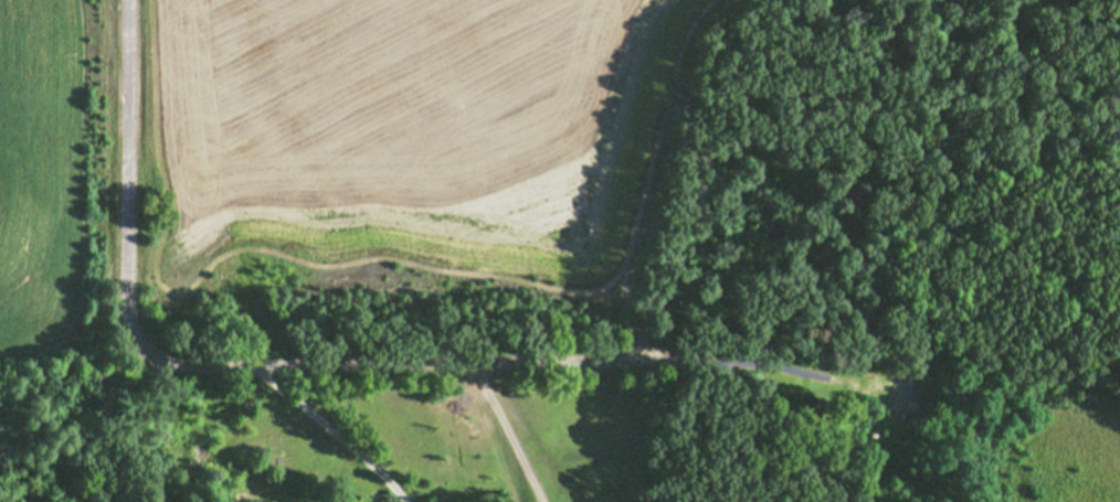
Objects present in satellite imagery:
road: (268, 362)
building: (811, 408)
road: (331, 428)
road: (507, 429)

